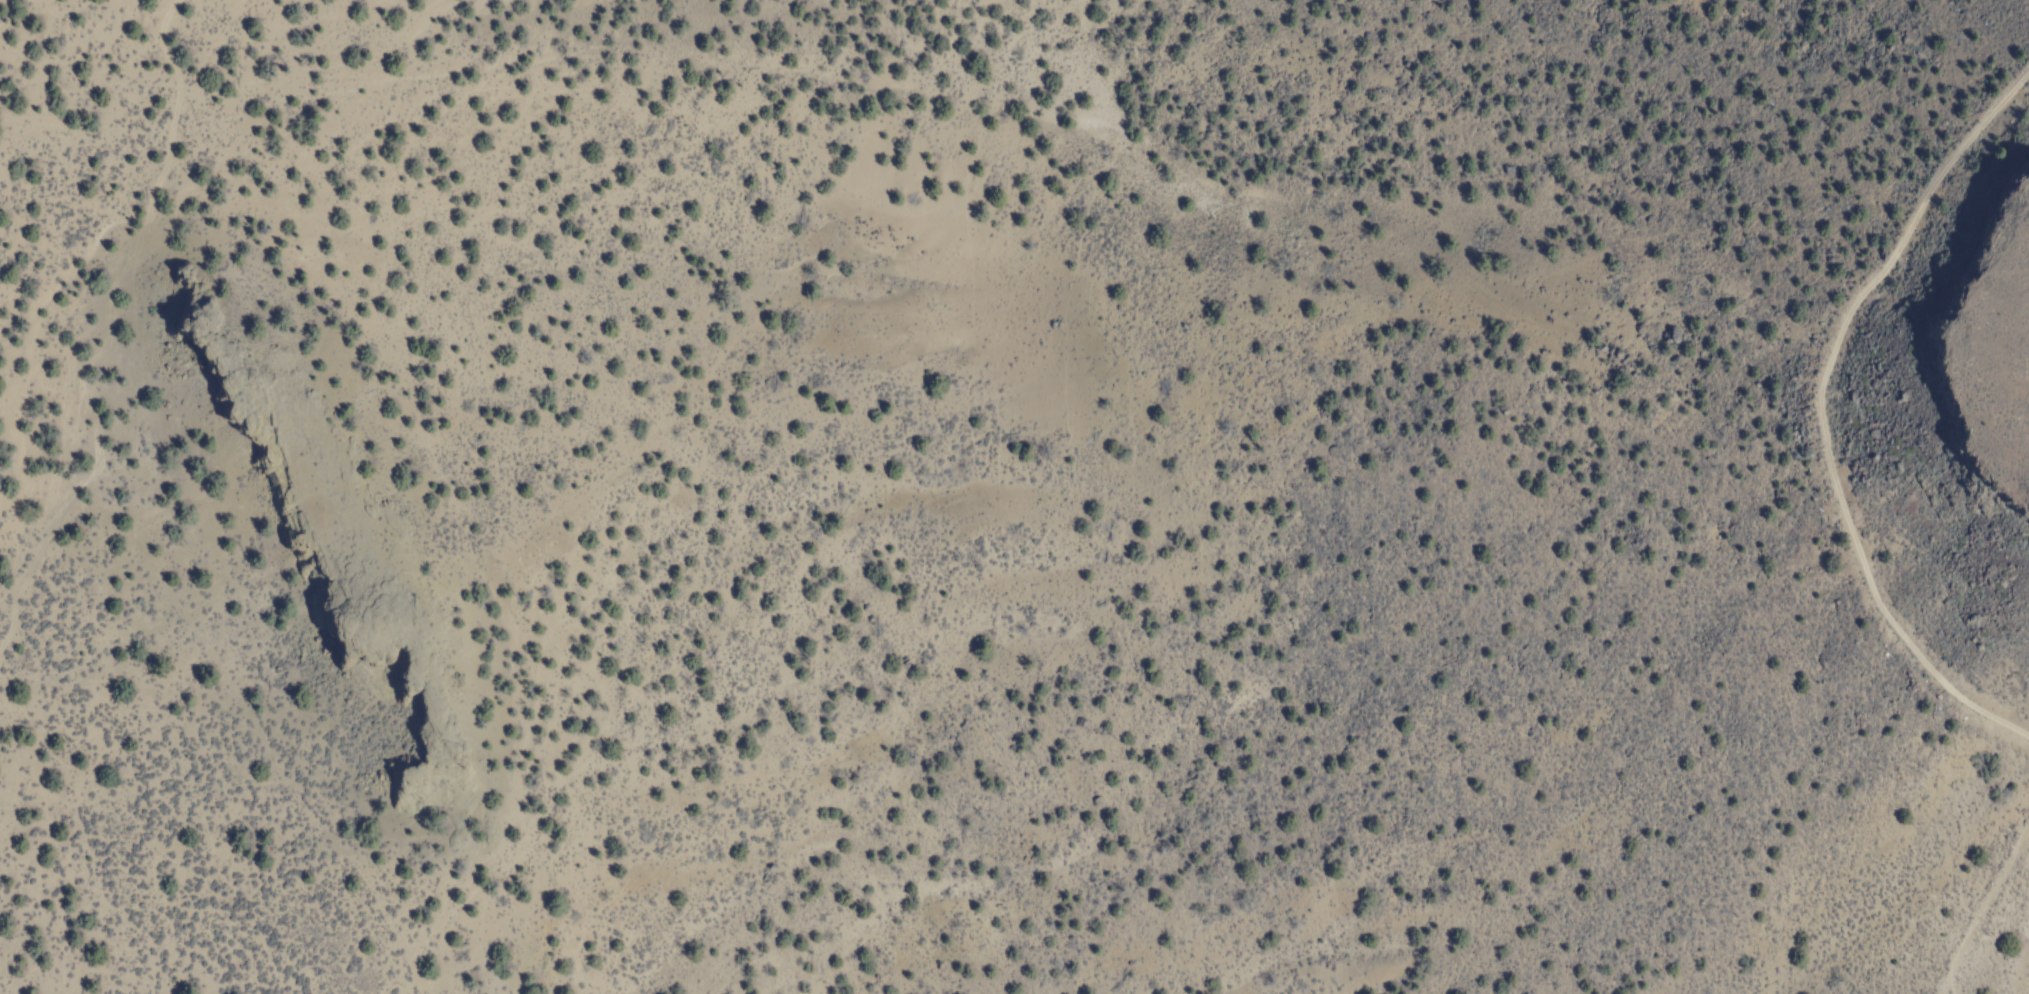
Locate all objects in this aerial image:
road: (1842, 424)
road: (1994, 926)

